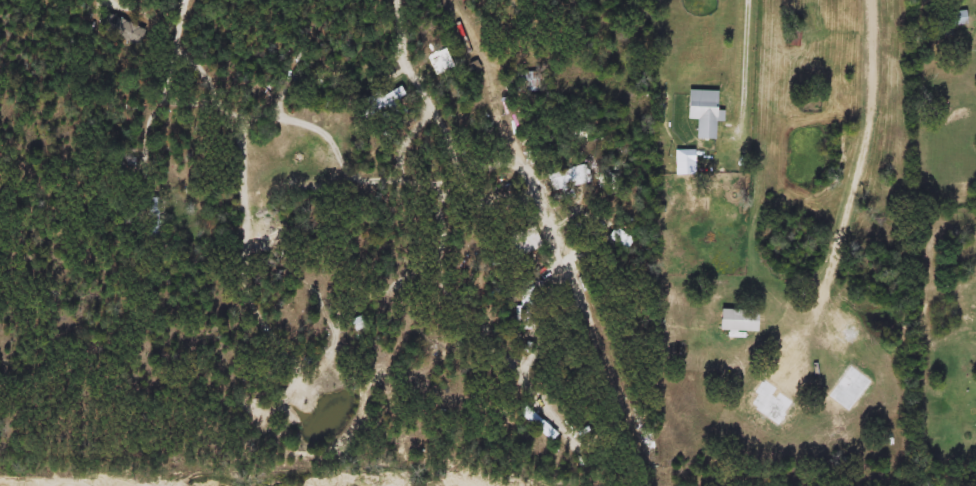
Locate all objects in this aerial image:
building: (954, 18)
road: (469, 34)
building: (793, 37)
road: (747, 64)
building: (528, 82)
road: (164, 88)
building: (704, 111)
road: (469, 158)
road: (356, 174)
building: (566, 178)
building: (154, 221)
road: (254, 287)
building: (528, 306)
building: (738, 320)

